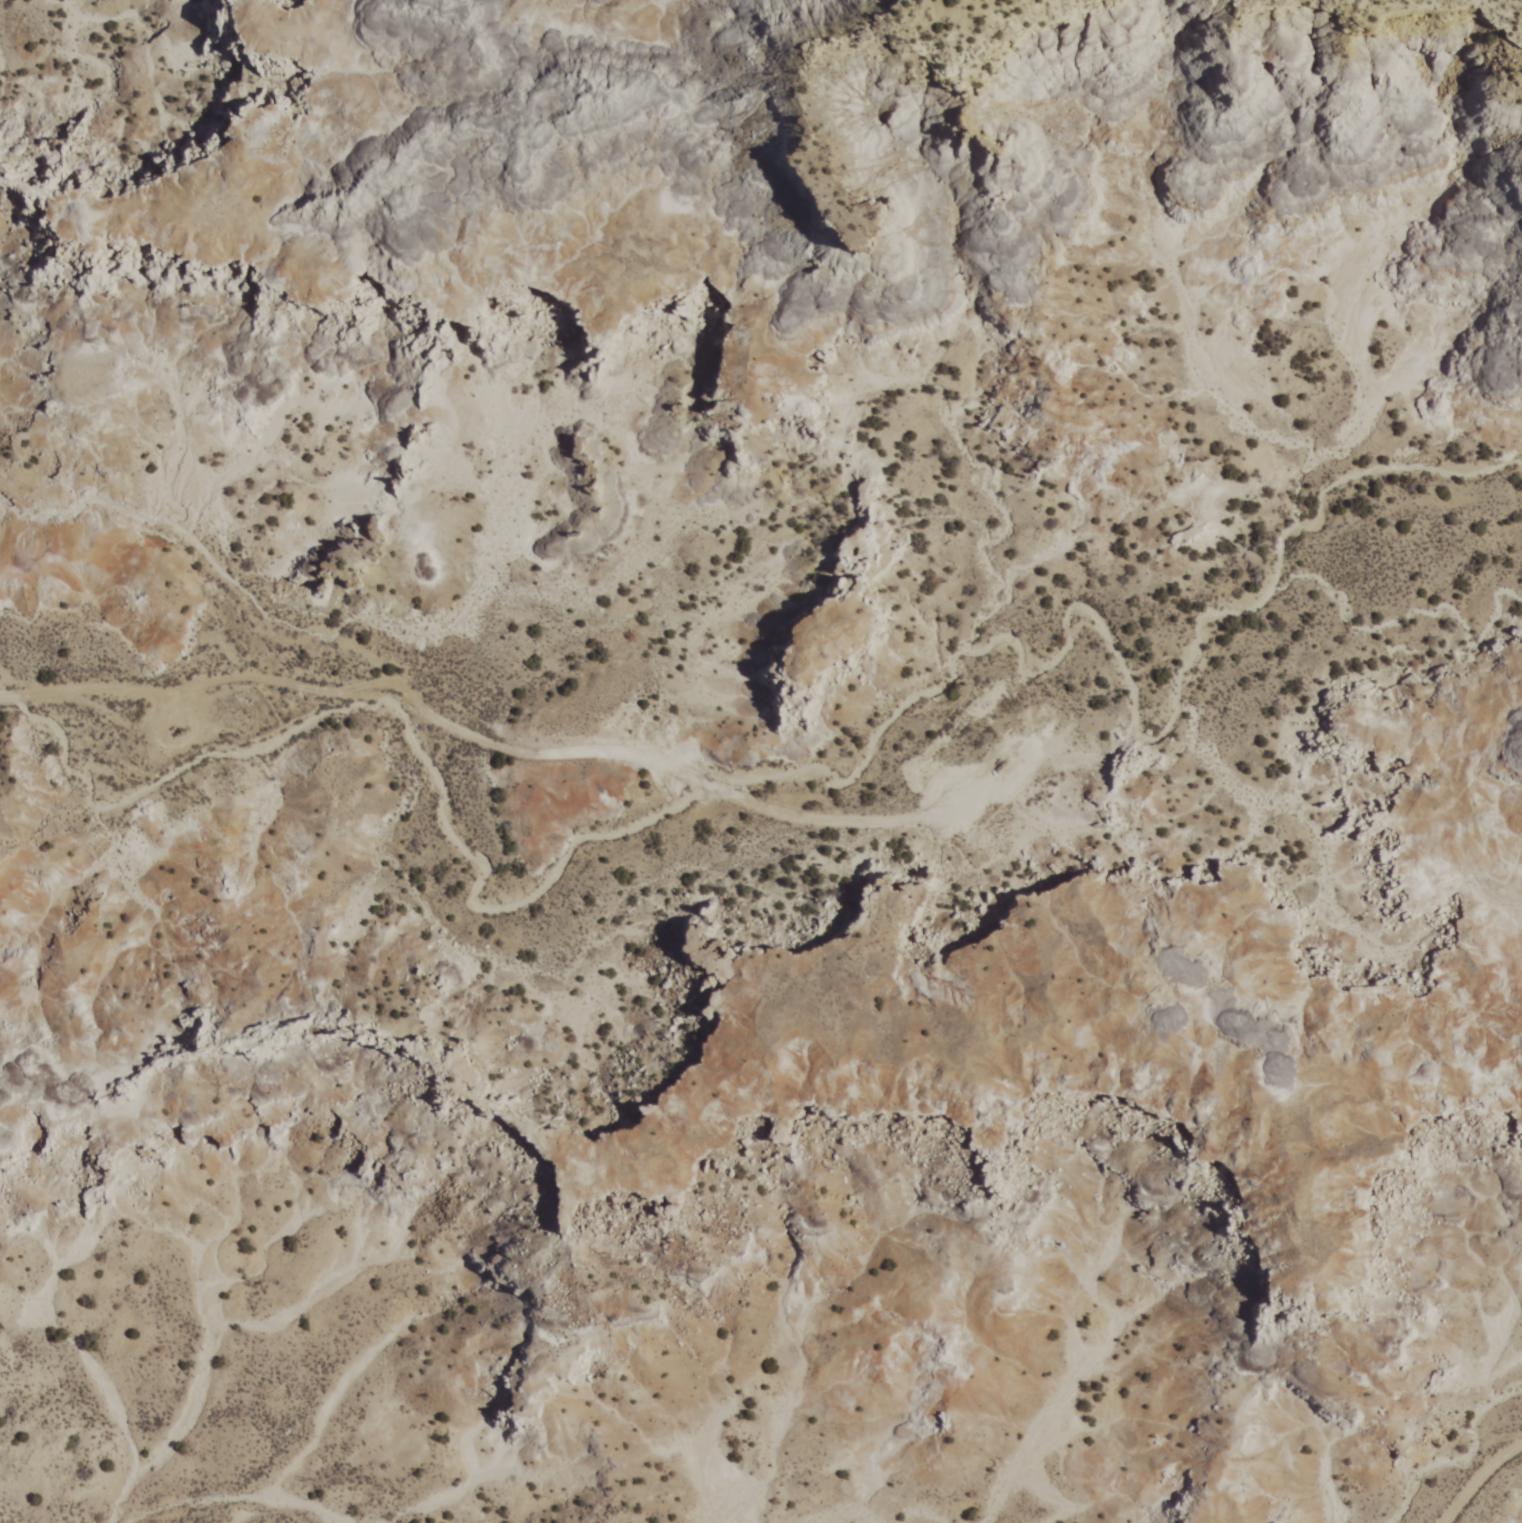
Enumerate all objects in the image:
road: (1477, 1488)

